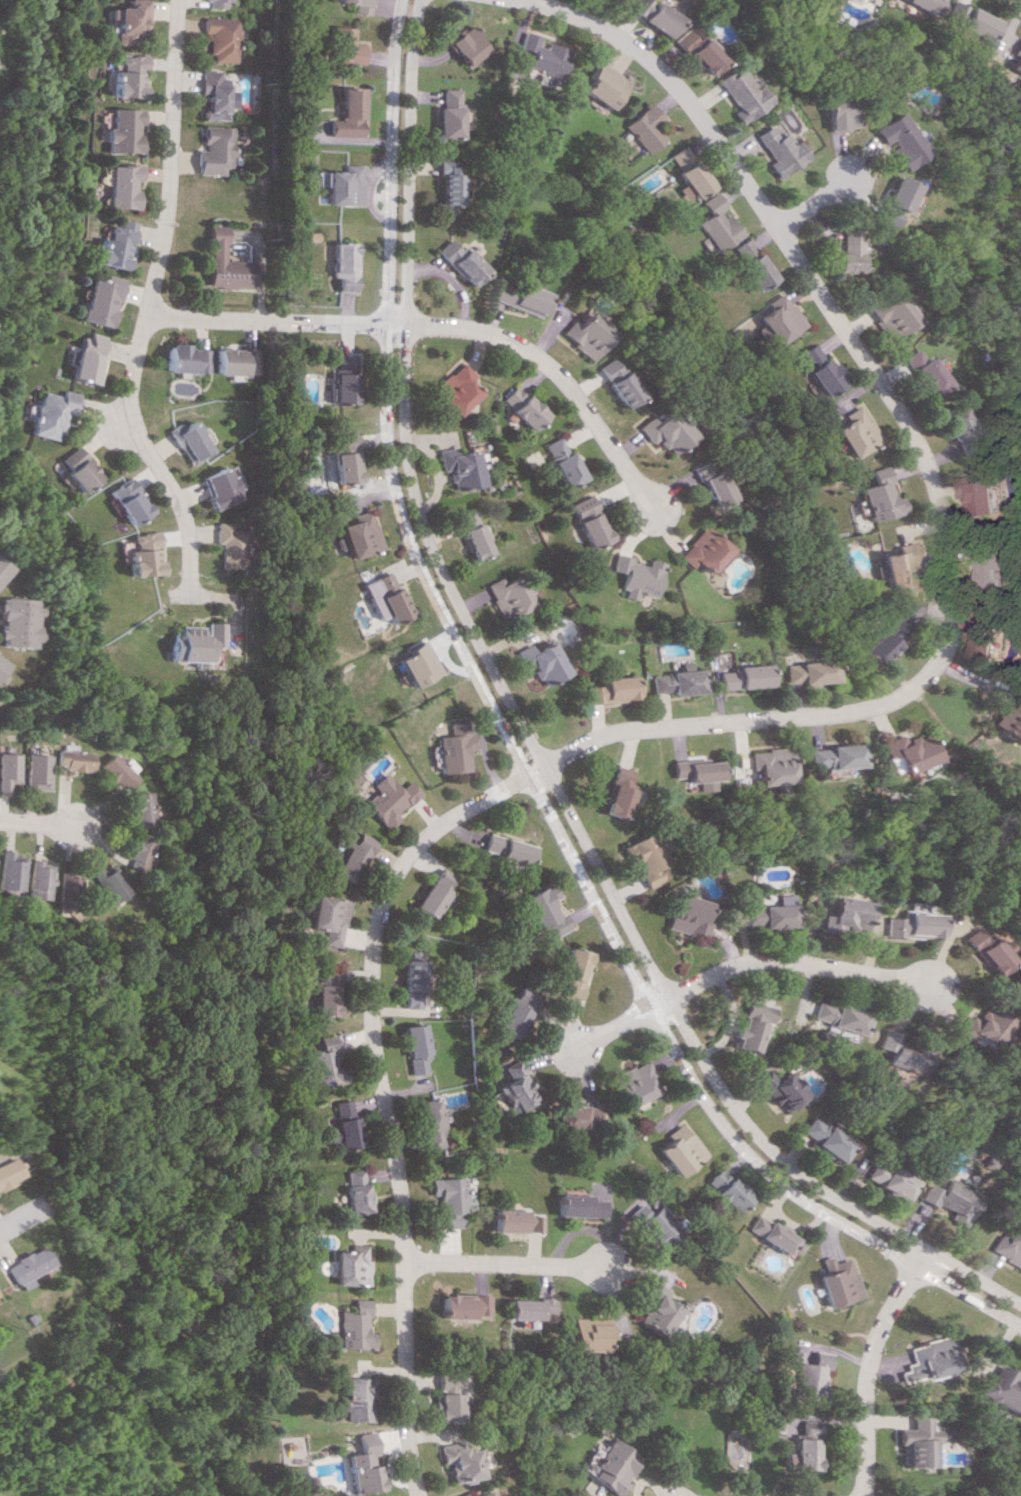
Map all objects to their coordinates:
building: (866, 0)
road: (1019, 0)
building: (212, 3)
building: (355, 5)
building: (923, 5)
building: (652, 15)
building: (971, 20)
building: (123, 21)
building: (219, 38)
building: (464, 44)
building: (343, 46)
building: (696, 51)
building: (542, 55)
building: (1017, 56)
building: (122, 75)
building: (602, 85)
building: (214, 95)
building: (739, 95)
building: (447, 112)
building: (345, 114)
building: (838, 114)
building: (642, 127)
building: (119, 130)
building: (900, 140)
building: (215, 150)
building: (777, 151)
building: (685, 173)
building: (446, 184)
building: (118, 185)
building: (339, 185)
building: (902, 194)
road: (812, 200)
building: (714, 223)
building: (111, 245)
building: (740, 249)
building: (849, 249)
building: (458, 261)
building: (224, 263)
building: (341, 265)
building: (754, 271)
road: (449, 281)
building: (518, 298)
building: (95, 300)
road: (143, 300)
building: (891, 315)
building: (777, 319)
road: (436, 326)
building: (584, 334)
building: (79, 359)
building: (181, 359)
building: (231, 361)
building: (819, 370)
building: (925, 371)
building: (340, 379)
building: (615, 382)
building: (452, 389)
building: (519, 407)
building: (43, 412)
road: (112, 423)
building: (958, 430)
building: (663, 431)
building: (852, 432)
building: (182, 441)
building: (342, 458)
building: (560, 461)
road: (921, 466)
building: (456, 467)
building: (68, 469)
building: (214, 488)
building: (876, 496)
building: (987, 497)
building: (119, 501)
building: (587, 523)
building: (355, 535)
building: (468, 535)
building: (224, 545)
building: (700, 550)
building: (134, 555)
building: (995, 560)
building: (894, 566)
building: (2, 569)
building: (634, 576)
building: (505, 595)
building: (383, 598)
building: (16, 622)
building: (995, 639)
building: (878, 640)
building: (185, 643)
building: (541, 662)
building: (1, 664)
building: (414, 664)
building: (805, 672)
building: (0, 676)
building: (741, 676)
building: (676, 682)
building: (1002, 719)
road: (527, 743)
building: (451, 748)
building: (900, 751)
road: (515, 756)
building: (828, 756)
building: (68, 759)
building: (766, 766)
building: (693, 770)
building: (6, 771)
building: (31, 771)
building: (112, 771)
building: (618, 792)
building: (384, 799)
building: (134, 808)
road: (33, 824)
building: (505, 849)
building: (131, 851)
building: (348, 856)
building: (646, 858)
building: (7, 871)
building: (31, 879)
building: (100, 882)
building: (59, 891)
building: (432, 892)
building: (544, 910)
building: (767, 914)
building: (843, 915)
building: (688, 916)
building: (323, 920)
building: (906, 925)
building: (975, 950)
road: (779, 959)
building: (574, 972)
building: (324, 974)
building: (411, 984)
building: (320, 1000)
building: (514, 1011)
building: (833, 1016)
building: (747, 1025)
building: (975, 1026)
road: (610, 1028)
building: (412, 1048)
building: (896, 1053)
building: (317, 1062)
building: (636, 1083)
building: (512, 1087)
building: (779, 1089)
road: (375, 1099)
building: (571, 1117)
building: (426, 1121)
building: (339, 1124)
building: (823, 1138)
building: (681, 1150)
building: (6, 1171)
building: (886, 1180)
building: (727, 1189)
building: (349, 1192)
building: (445, 1200)
building: (946, 1200)
building: (577, 1206)
road: (23, 1212)
building: (513, 1221)
building: (654, 1227)
building: (774, 1235)
building: (1005, 1247)
road: (497, 1262)
building: (342, 1265)
building: (21, 1266)
building: (837, 1282)
building: (457, 1306)
building: (523, 1308)
building: (653, 1311)
building: (343, 1326)
building: (582, 1335)
building: (926, 1360)
road: (868, 1368)
building: (808, 1377)
building: (435, 1382)
building: (1002, 1390)
building: (342, 1399)
building: (436, 1407)
building: (913, 1443)
building: (804, 1446)
building: (450, 1462)
building: (350, 1464)
building: (606, 1466)
building: (477, 1493)
building: (453, 1494)

